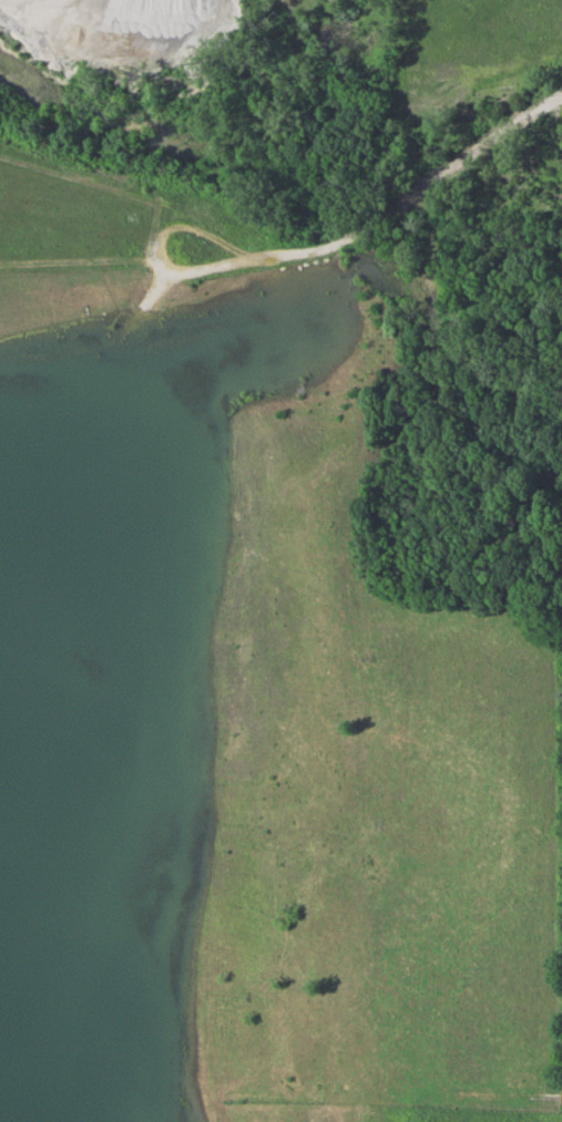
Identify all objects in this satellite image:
road: (280, 1109)

